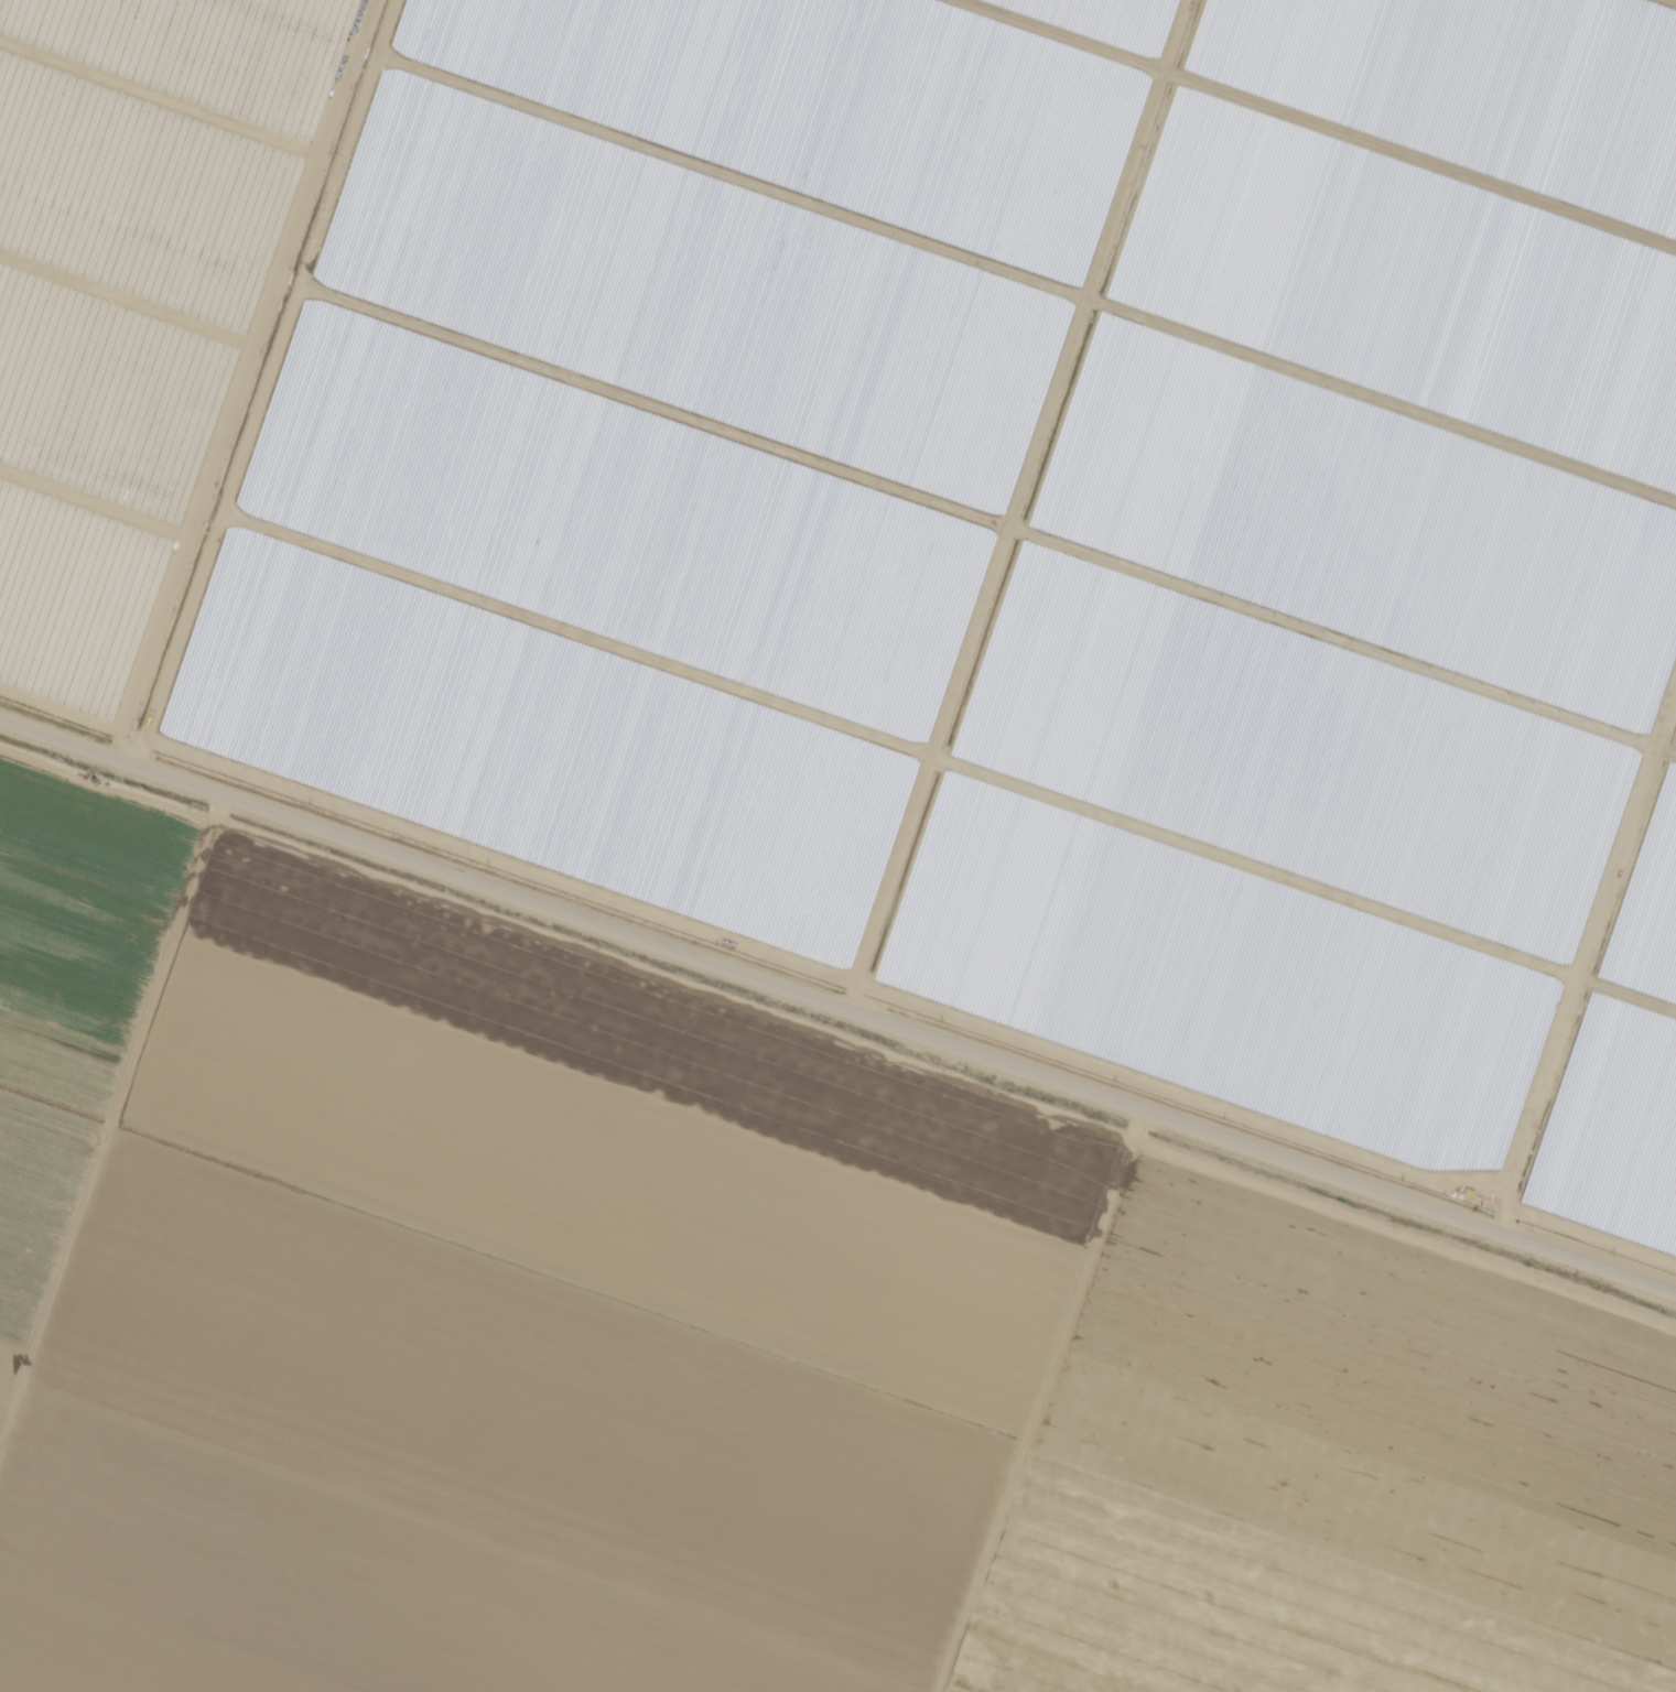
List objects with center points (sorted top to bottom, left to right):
crop: (1159, 7)
crop: (257, 28)
crop: (1499, 65)
crop: (930, 70)
crop: (732, 193)
crop: (1423, 219)
crop: (119, 317)
crop: (666, 379)
crop: (1391, 422)
crop: (602, 570)
crop: (1352, 615)
crop: (537, 764)
crop: (1286, 809)
crop: (1670, 810)
crop: (80, 914)
crop: (1647, 954)
crop: (1220, 998)
road: (837, 1004)
crop: (617, 1117)
crop: (1615, 1148)
crop: (36, 1182)
crop: (4, 1376)
crop: (526, 1385)
crop: (1382, 1389)
crop: (325, 1580)
crop: (1254, 1599)
crop: (30, 1681)
crop: (950, 1691)

